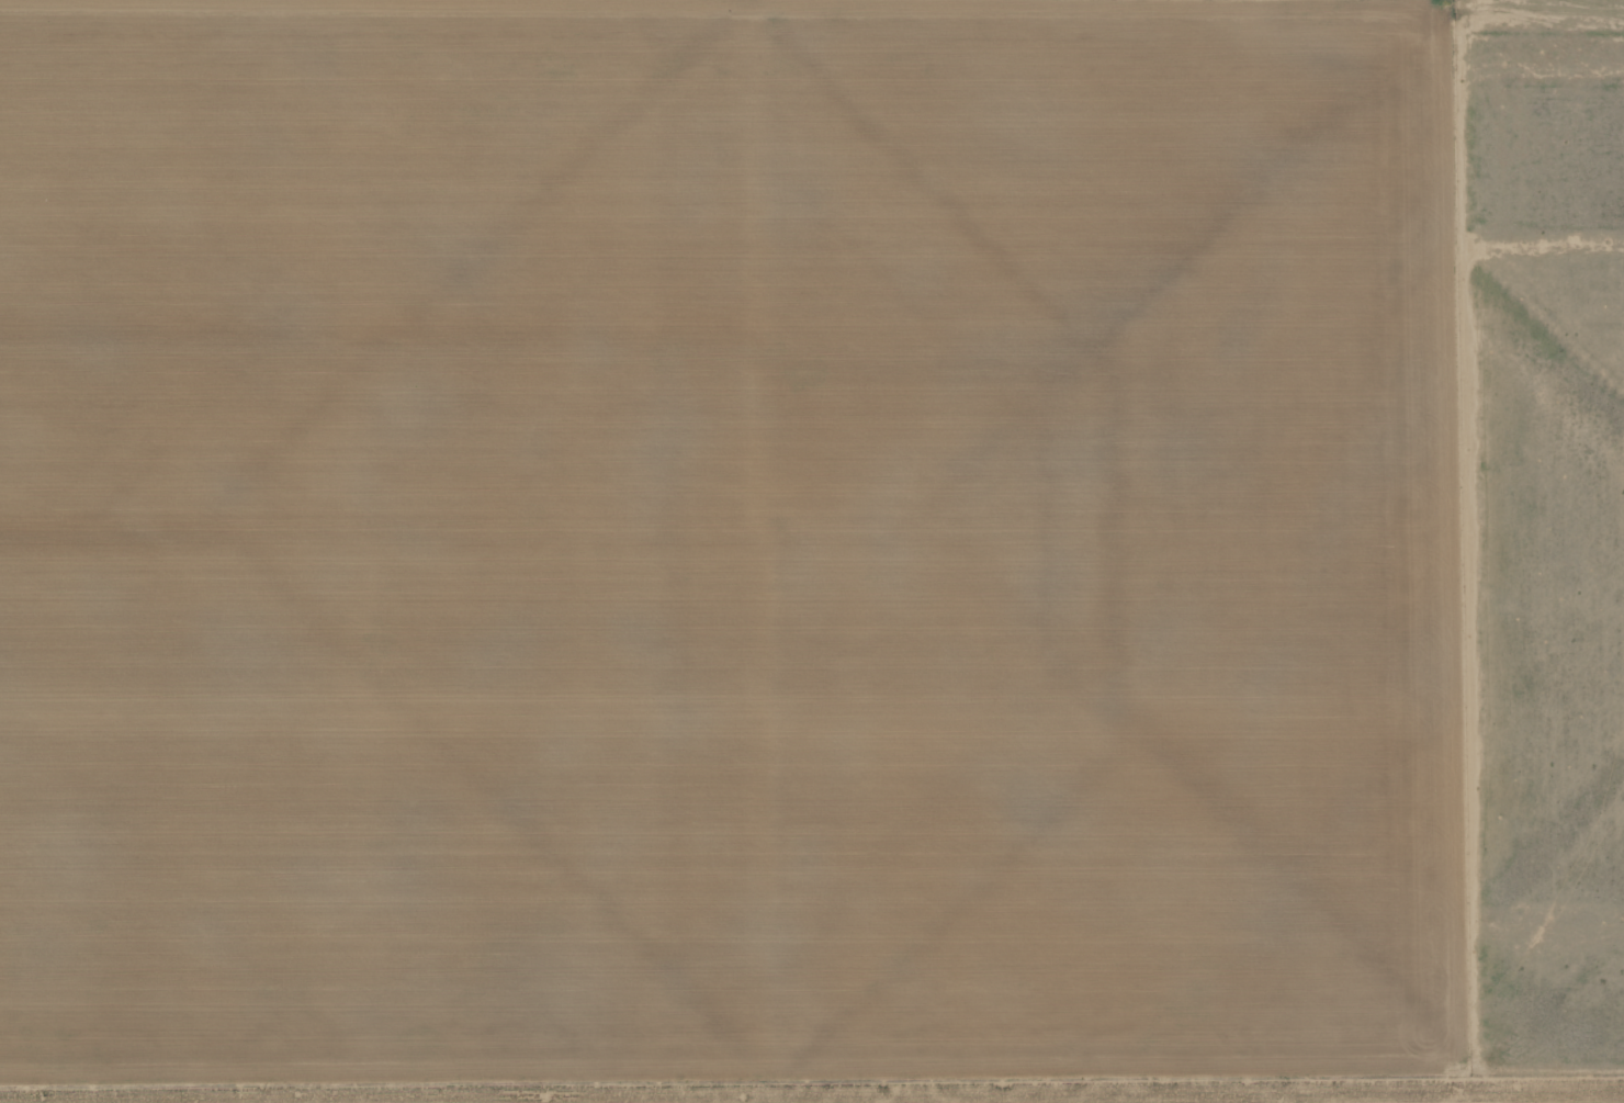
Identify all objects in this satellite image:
road: (1477, 2)
road: (1538, 20)
road: (681, 64)

